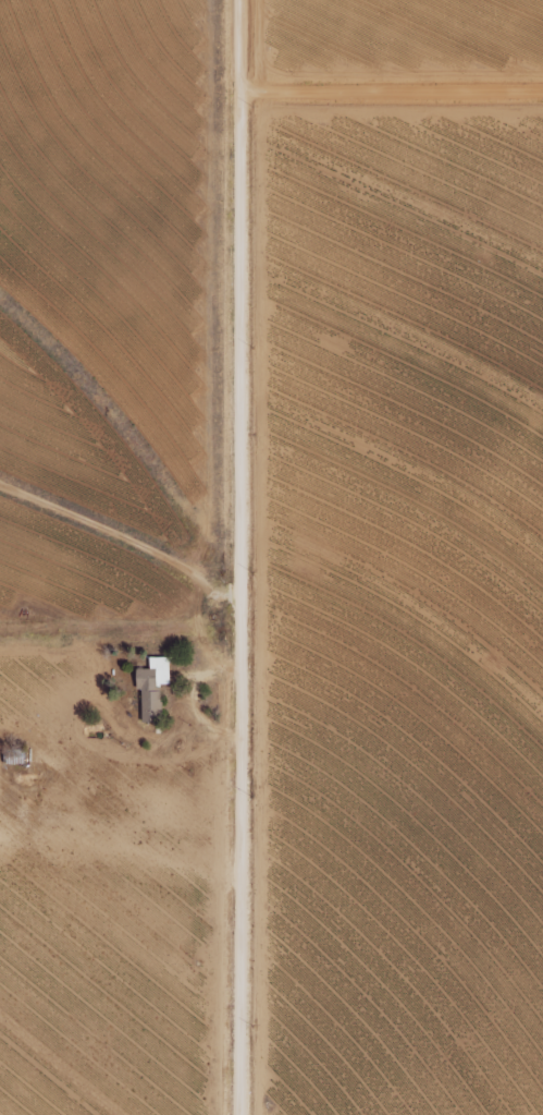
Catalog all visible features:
road: (386, 93)
road: (119, 532)
road: (231, 557)

